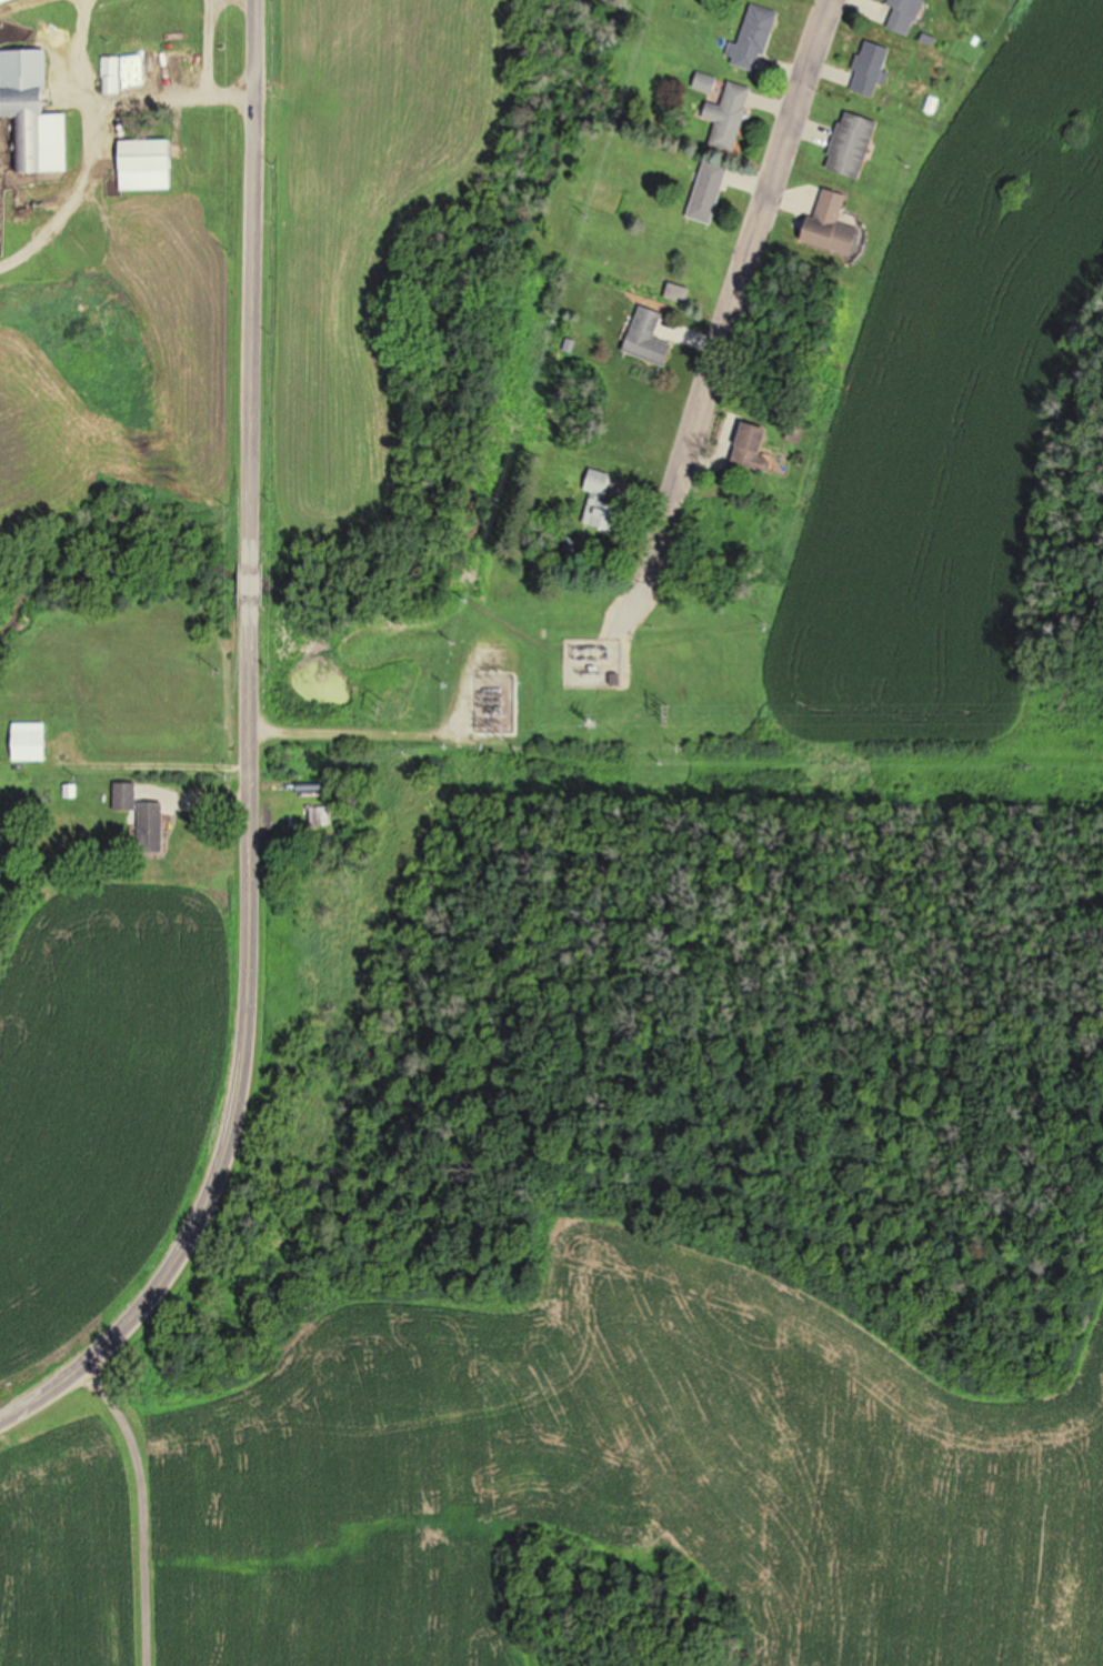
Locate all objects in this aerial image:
building: (2, 1)
building: (902, 14)
building: (164, 21)
building: (755, 38)
road: (213, 48)
building: (169, 67)
building: (871, 68)
building: (108, 74)
building: (706, 82)
road: (173, 97)
building: (31, 113)
building: (731, 117)
building: (853, 143)
road: (91, 153)
building: (144, 164)
building: (709, 191)
building: (832, 223)
road: (723, 322)
building: (649, 337)
building: (754, 448)
building: (600, 502)
power substation: (493, 703)
power tower: (381, 709)
power tower: (664, 714)
power tower: (590, 723)
power tower: (505, 732)
road: (363, 737)
building: (31, 744)
road: (250, 756)
building: (126, 796)
road: (197, 806)
building: (152, 826)
road: (138, 1508)

